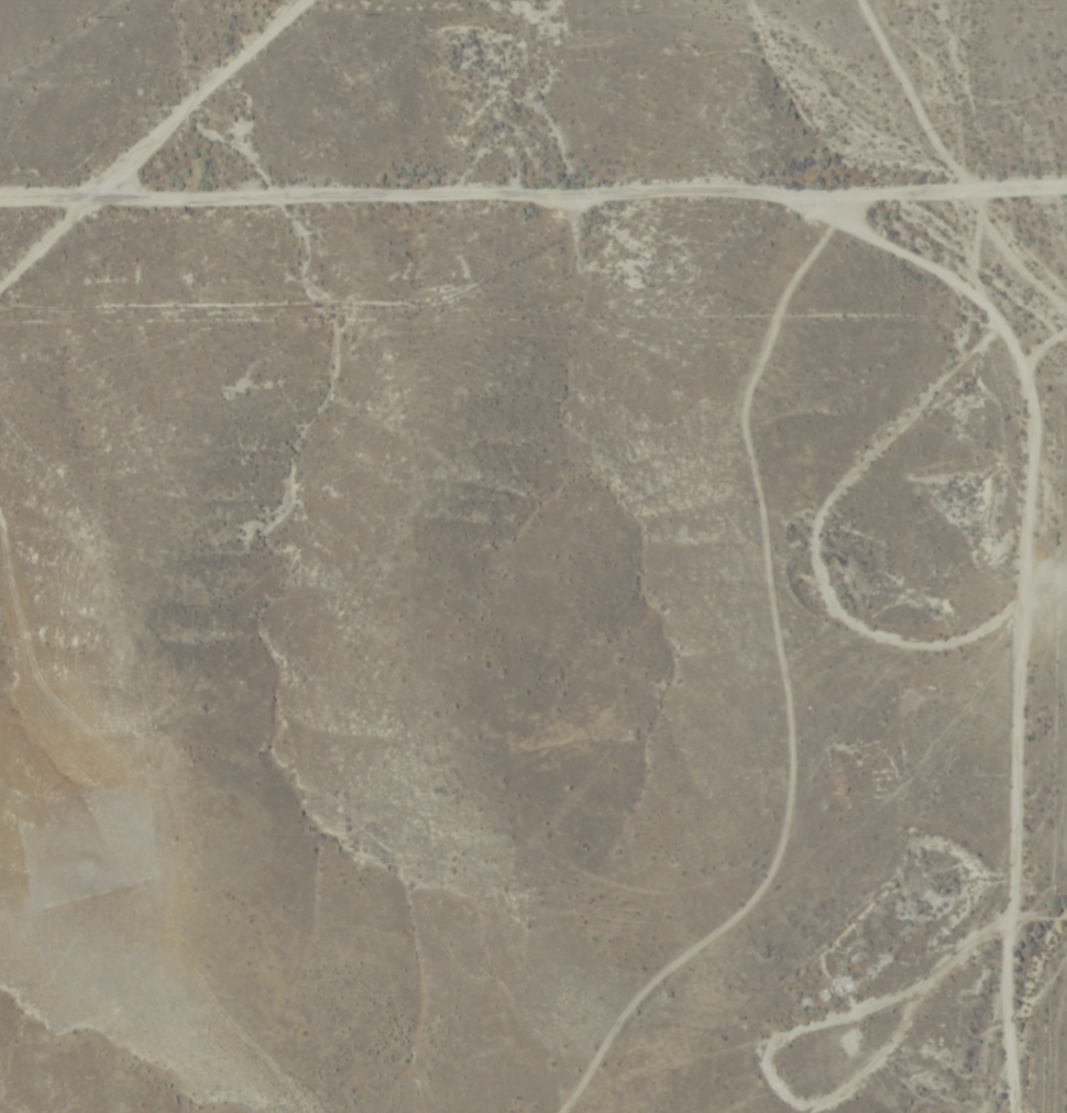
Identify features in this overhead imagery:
road: (533, 213)
road: (1012, 596)

